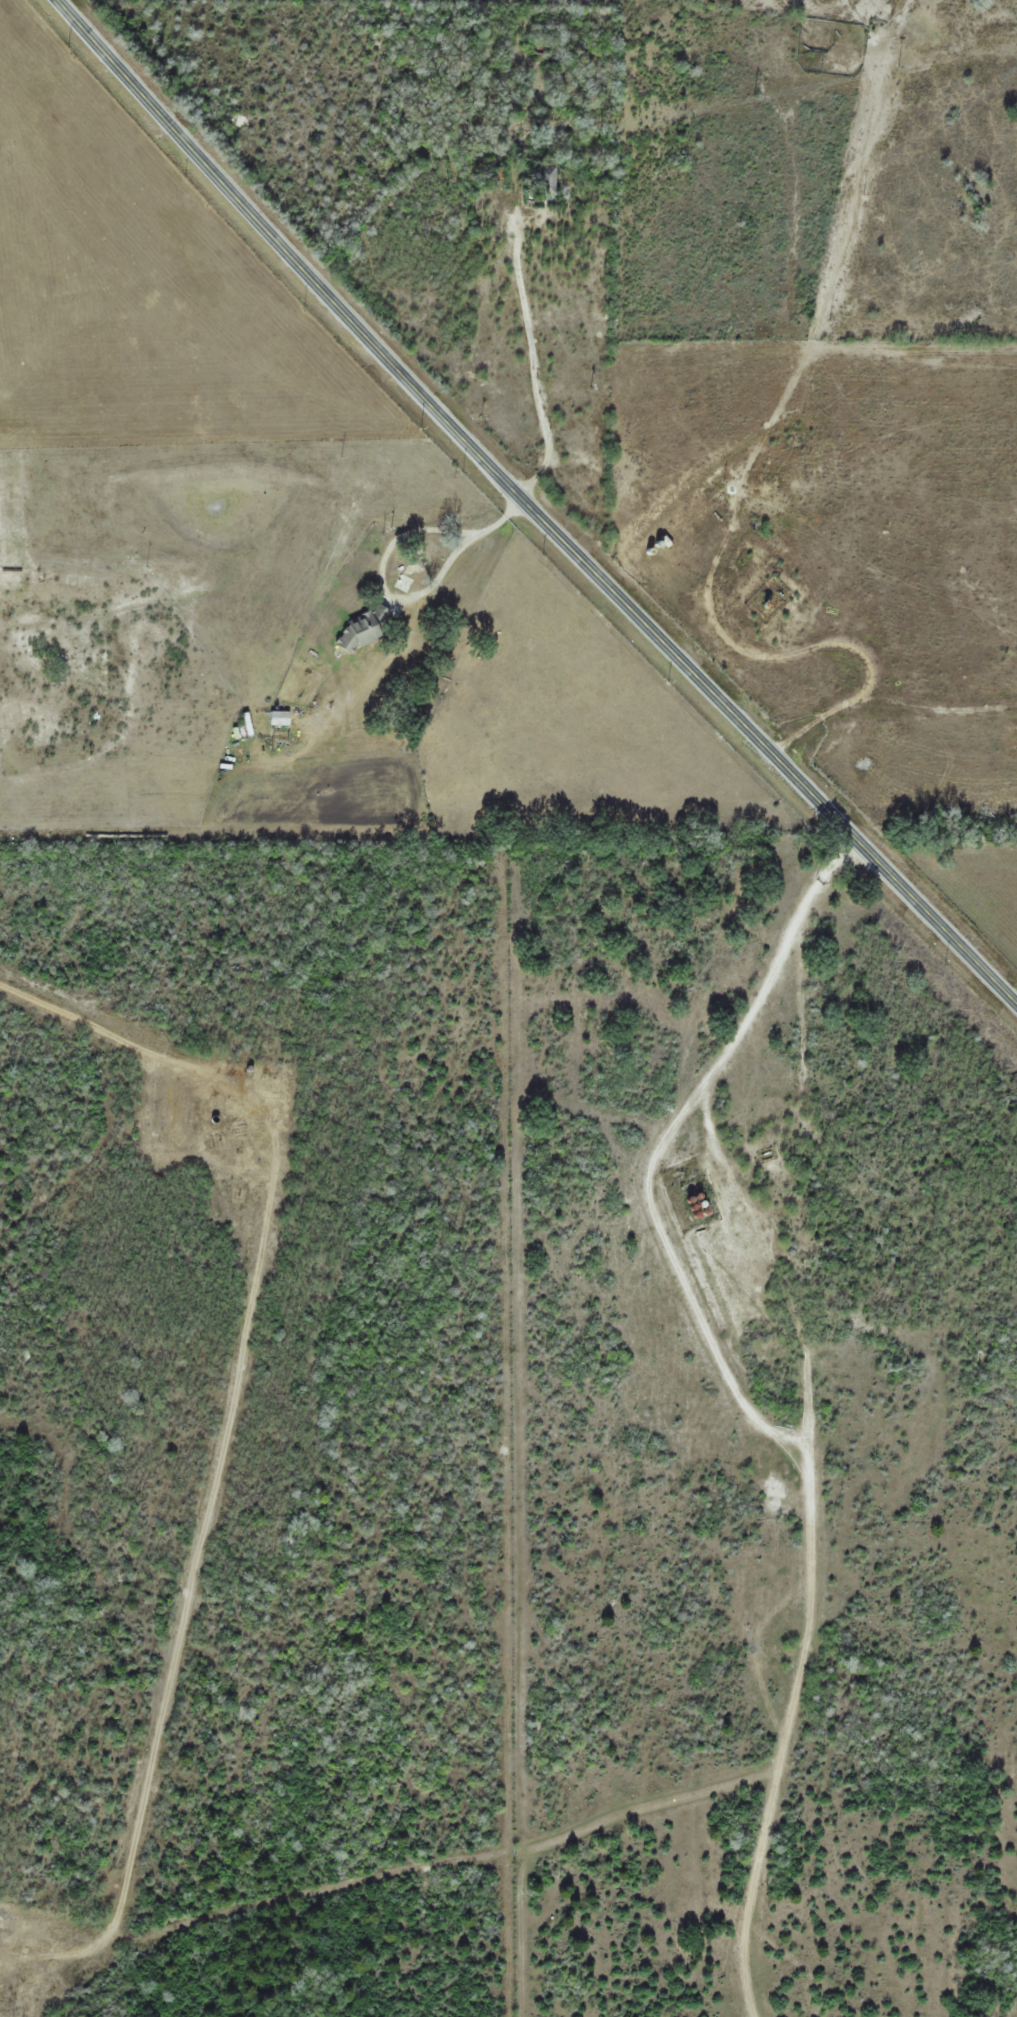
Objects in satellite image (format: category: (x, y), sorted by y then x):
building: (550, 180)
road: (534, 506)
building: (419, 567)
building: (364, 631)
building: (282, 717)
building: (174, 1092)

